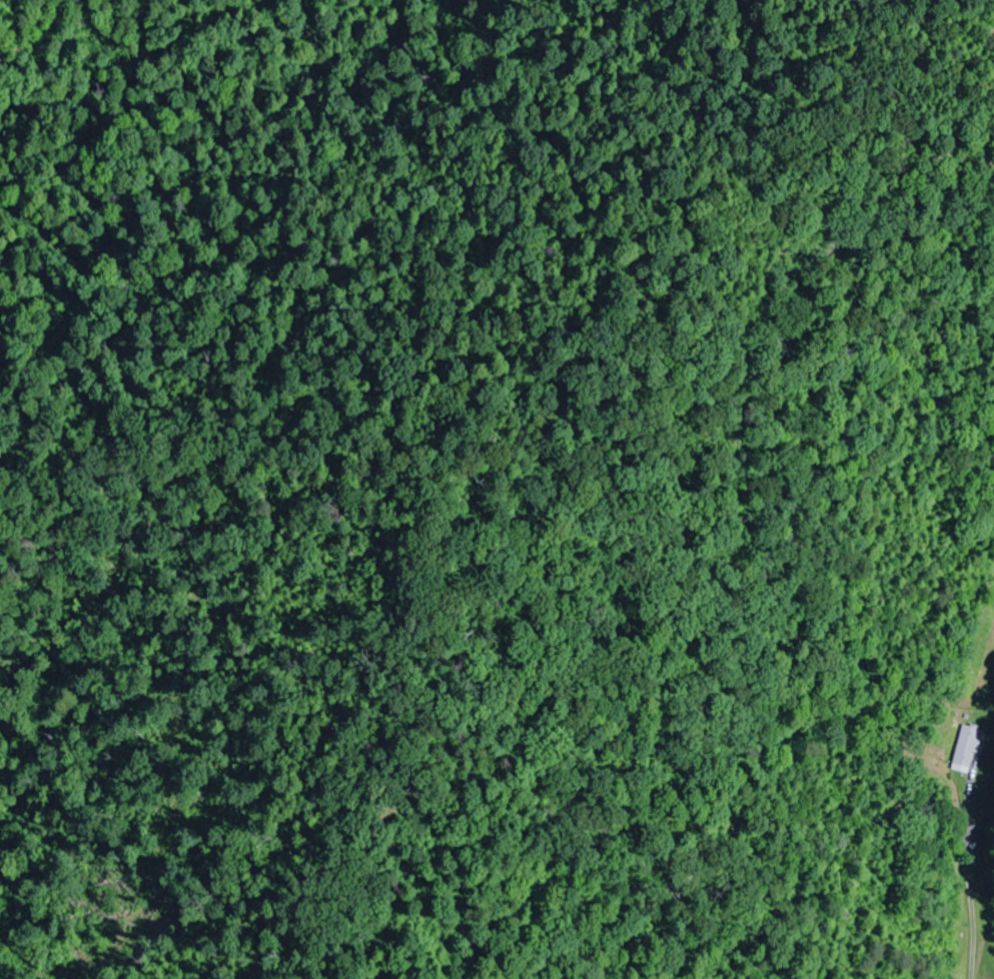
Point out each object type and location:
building: (967, 749)

